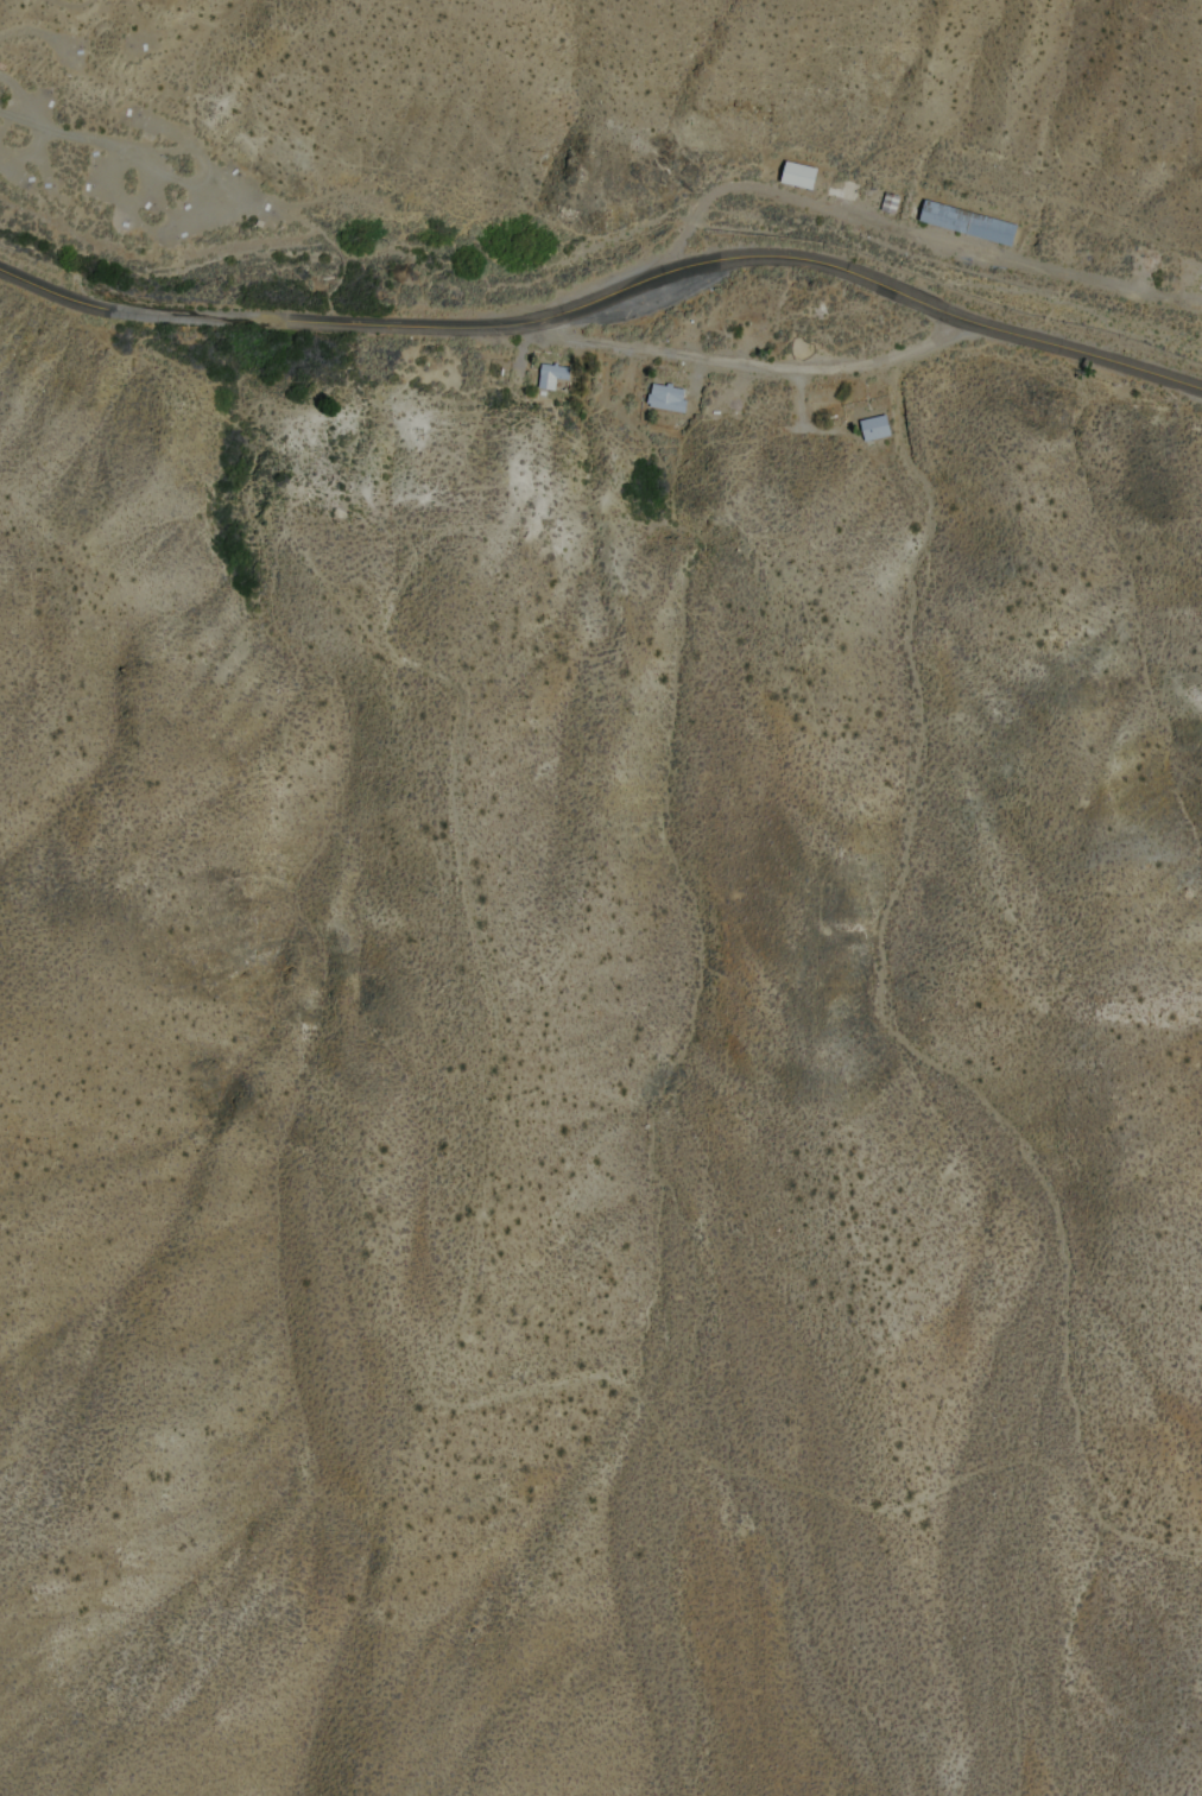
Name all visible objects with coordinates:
road: (72, 7)
road: (134, 21)
road: (29, 34)
road: (44, 128)
road: (62, 134)
road: (202, 171)
building: (809, 181)
road: (119, 202)
building: (900, 210)
road: (306, 221)
building: (982, 229)
road: (912, 235)
helipad: (1191, 283)
road: (608, 291)
road: (735, 366)
building: (556, 372)
building: (508, 373)
storage tank: (508, 373)
building: (675, 399)
road: (804, 401)
building: (839, 417)
storage tank: (839, 417)
building: (879, 425)

